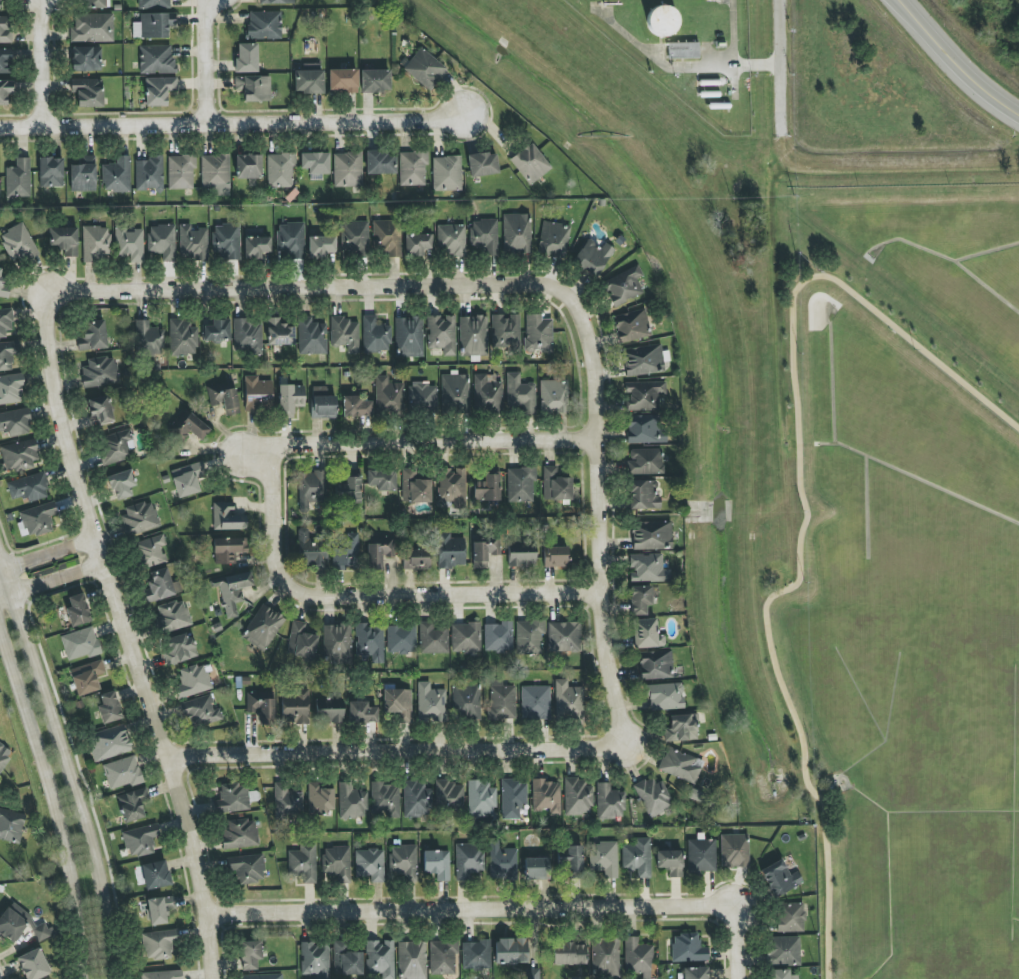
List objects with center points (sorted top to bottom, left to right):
building: (276, 2)
building: (92, 4)
building: (154, 4)
building: (662, 21)
building: (156, 25)
building: (264, 25)
building: (92, 28)
building: (5, 29)
building: (136, 30)
building: (683, 50)
road: (733, 55)
building: (246, 58)
building: (86, 59)
building: (156, 59)
building: (6, 60)
road: (205, 60)
road: (40, 62)
road: (952, 63)
building: (425, 69)
road: (779, 69)
building: (309, 79)
building: (343, 80)
building: (375, 81)
building: (254, 88)
building: (158, 90)
building: (5, 91)
building: (88, 92)
road: (231, 121)
building: (380, 162)
building: (530, 163)
building: (315, 164)
building: (482, 164)
building: (248, 166)
building: (412, 168)
building: (280, 170)
building: (347, 170)
building: (51, 172)
building: (181, 172)
building: (446, 173)
building: (83, 174)
building: (149, 174)
building: (215, 174)
building: (117, 175)
building: (18, 179)
building: (517, 233)
building: (484, 236)
building: (388, 237)
building: (354, 238)
building: (554, 239)
building: (64, 240)
building: (290, 240)
building: (451, 240)
building: (162, 241)
building: (226, 242)
building: (18, 243)
building: (96, 243)
building: (193, 243)
building: (129, 244)
building: (418, 244)
building: (321, 246)
building: (256, 247)
building: (592, 257)
building: (4, 286)
building: (624, 286)
road: (540, 288)
building: (5, 322)
building: (632, 326)
building: (216, 331)
building: (505, 332)
building: (279, 333)
building: (345, 334)
building: (442, 334)
building: (538, 334)
building: (92, 335)
building: (375, 335)
building: (473, 336)
building: (248, 337)
building: (311, 337)
building: (409, 337)
building: (148, 338)
building: (182, 338)
building: (7, 355)
building: (643, 360)
building: (100, 372)
building: (11, 389)
building: (455, 393)
building: (257, 394)
building: (486, 394)
building: (519, 394)
building: (388, 396)
building: (553, 396)
building: (643, 396)
building: (423, 397)
building: (224, 399)
building: (290, 399)
building: (322, 404)
building: (356, 407)
building: (100, 409)
building: (15, 422)
building: (190, 426)
building: (644, 429)
road: (418, 443)
building: (116, 446)
building: (20, 455)
building: (645, 462)
building: (187, 479)
building: (382, 479)
building: (122, 484)
building: (521, 485)
building: (556, 485)
building: (488, 487)
building: (29, 488)
building: (311, 488)
building: (349, 488)
building: (415, 488)
building: (451, 488)
building: (643, 495)
road: (804, 508)
building: (227, 517)
building: (140, 518)
building: (36, 520)
building: (651, 535)
road: (47, 549)
building: (228, 549)
building: (312, 549)
building: (346, 550)
building: (151, 551)
building: (379, 551)
building: (450, 551)
building: (484, 552)
building: (521, 555)
building: (555, 557)
building: (416, 559)
building: (647, 568)
road: (59, 580)
building: (161, 586)
road: (396, 588)
building: (232, 591)
road: (6, 593)
building: (641, 599)
building: (77, 610)
building: (172, 616)
building: (263, 628)
building: (646, 634)
road: (128, 635)
building: (498, 637)
building: (529, 637)
building: (563, 637)
building: (433, 638)
building: (465, 638)
building: (401, 639)
building: (301, 641)
building: (370, 642)
building: (80, 644)
building: (337, 644)
building: (179, 648)
building: (655, 665)
building: (87, 677)
building: (194, 681)
building: (665, 696)
building: (467, 701)
building: (502, 701)
building: (568, 701)
building: (536, 702)
building: (431, 703)
building: (398, 704)
building: (261, 706)
building: (295, 706)
building: (109, 708)
building: (328, 711)
building: (201, 712)
building: (362, 712)
building: (681, 728)
building: (108, 743)
road: (385, 744)
building: (4, 755)
building: (681, 765)
road: (67, 766)
building: (122, 772)
building: (449, 795)
building: (546, 796)
building: (577, 797)
building: (654, 797)
building: (234, 798)
building: (481, 798)
building: (512, 798)
building: (320, 799)
building: (416, 799)
road: (57, 800)
building: (287, 800)
building: (385, 800)
building: (351, 802)
building: (609, 803)
building: (132, 804)
building: (11, 825)
building: (239, 834)
building: (140, 840)
building: (734, 851)
building: (701, 855)
building: (638, 857)
building: (603, 858)
building: (468, 860)
building: (572, 860)
building: (403, 861)
building: (337, 862)
building: (670, 862)
building: (503, 863)
building: (303, 864)
building: (370, 864)
building: (437, 864)
building: (536, 868)
building: (247, 869)
building: (156, 874)
building: (139, 875)
building: (779, 878)
road: (637, 908)
building: (159, 909)
road: (359, 912)
building: (790, 917)
building: (12, 923)
building: (42, 932)
building: (160, 944)
building: (688, 948)
building: (511, 951)
building: (783, 951)
building: (250, 954)
building: (569, 954)
building: (476, 955)
building: (443, 957)
building: (380, 958)
building: (605, 958)
building: (637, 958)
building: (315, 960)
building: (346, 960)
building: (412, 960)
road: (736, 961)
building: (33, 965)
building: (696, 973)
building: (534, 974)
building: (778, 974)
building: (162, 975)
building: (263, 976)

